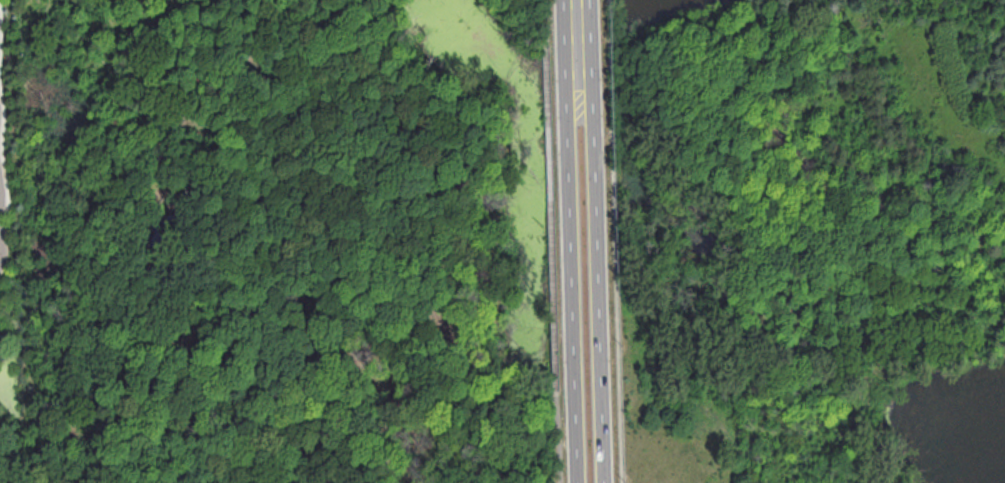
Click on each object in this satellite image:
road: (545, 20)
road: (0, 28)
road: (581, 58)
road: (1, 136)
road: (551, 215)
park: (807, 240)
road: (613, 241)
road: (571, 298)
road: (595, 299)
road: (557, 437)

